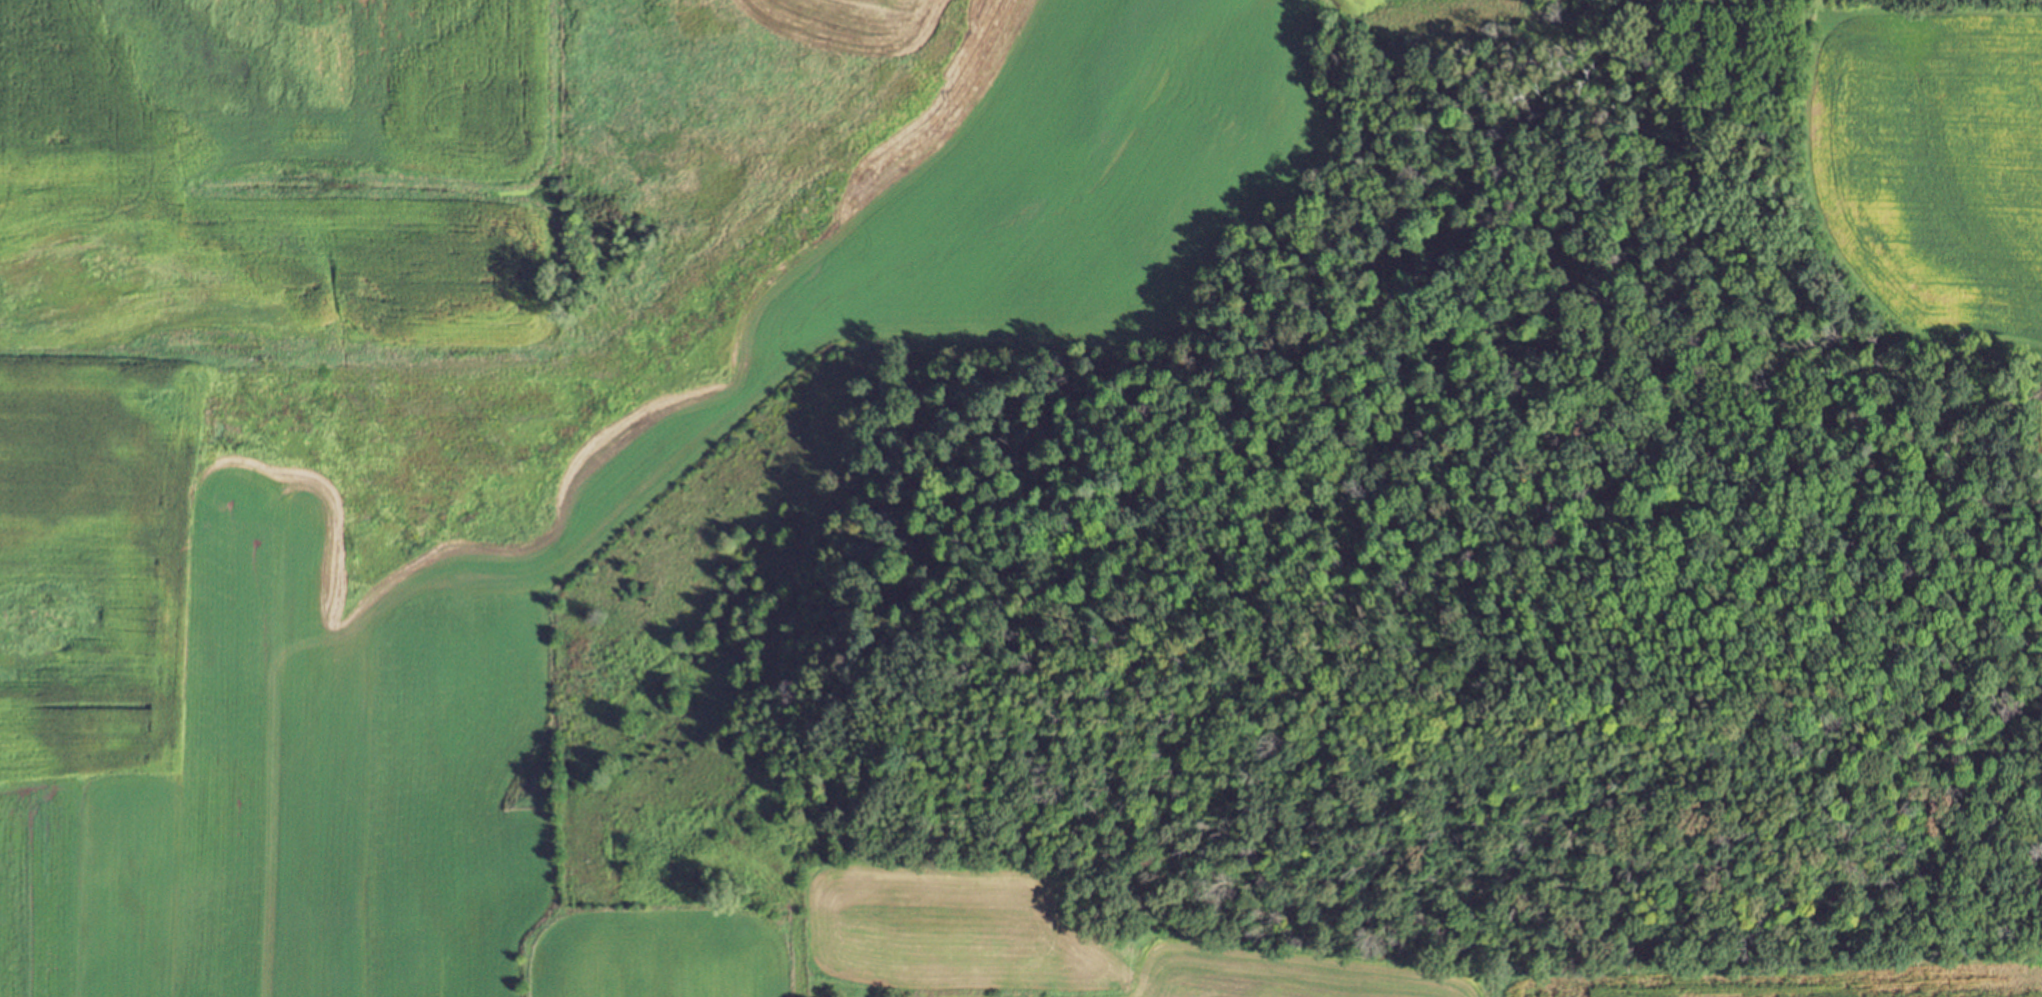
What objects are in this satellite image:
crop: (1938, 168)

